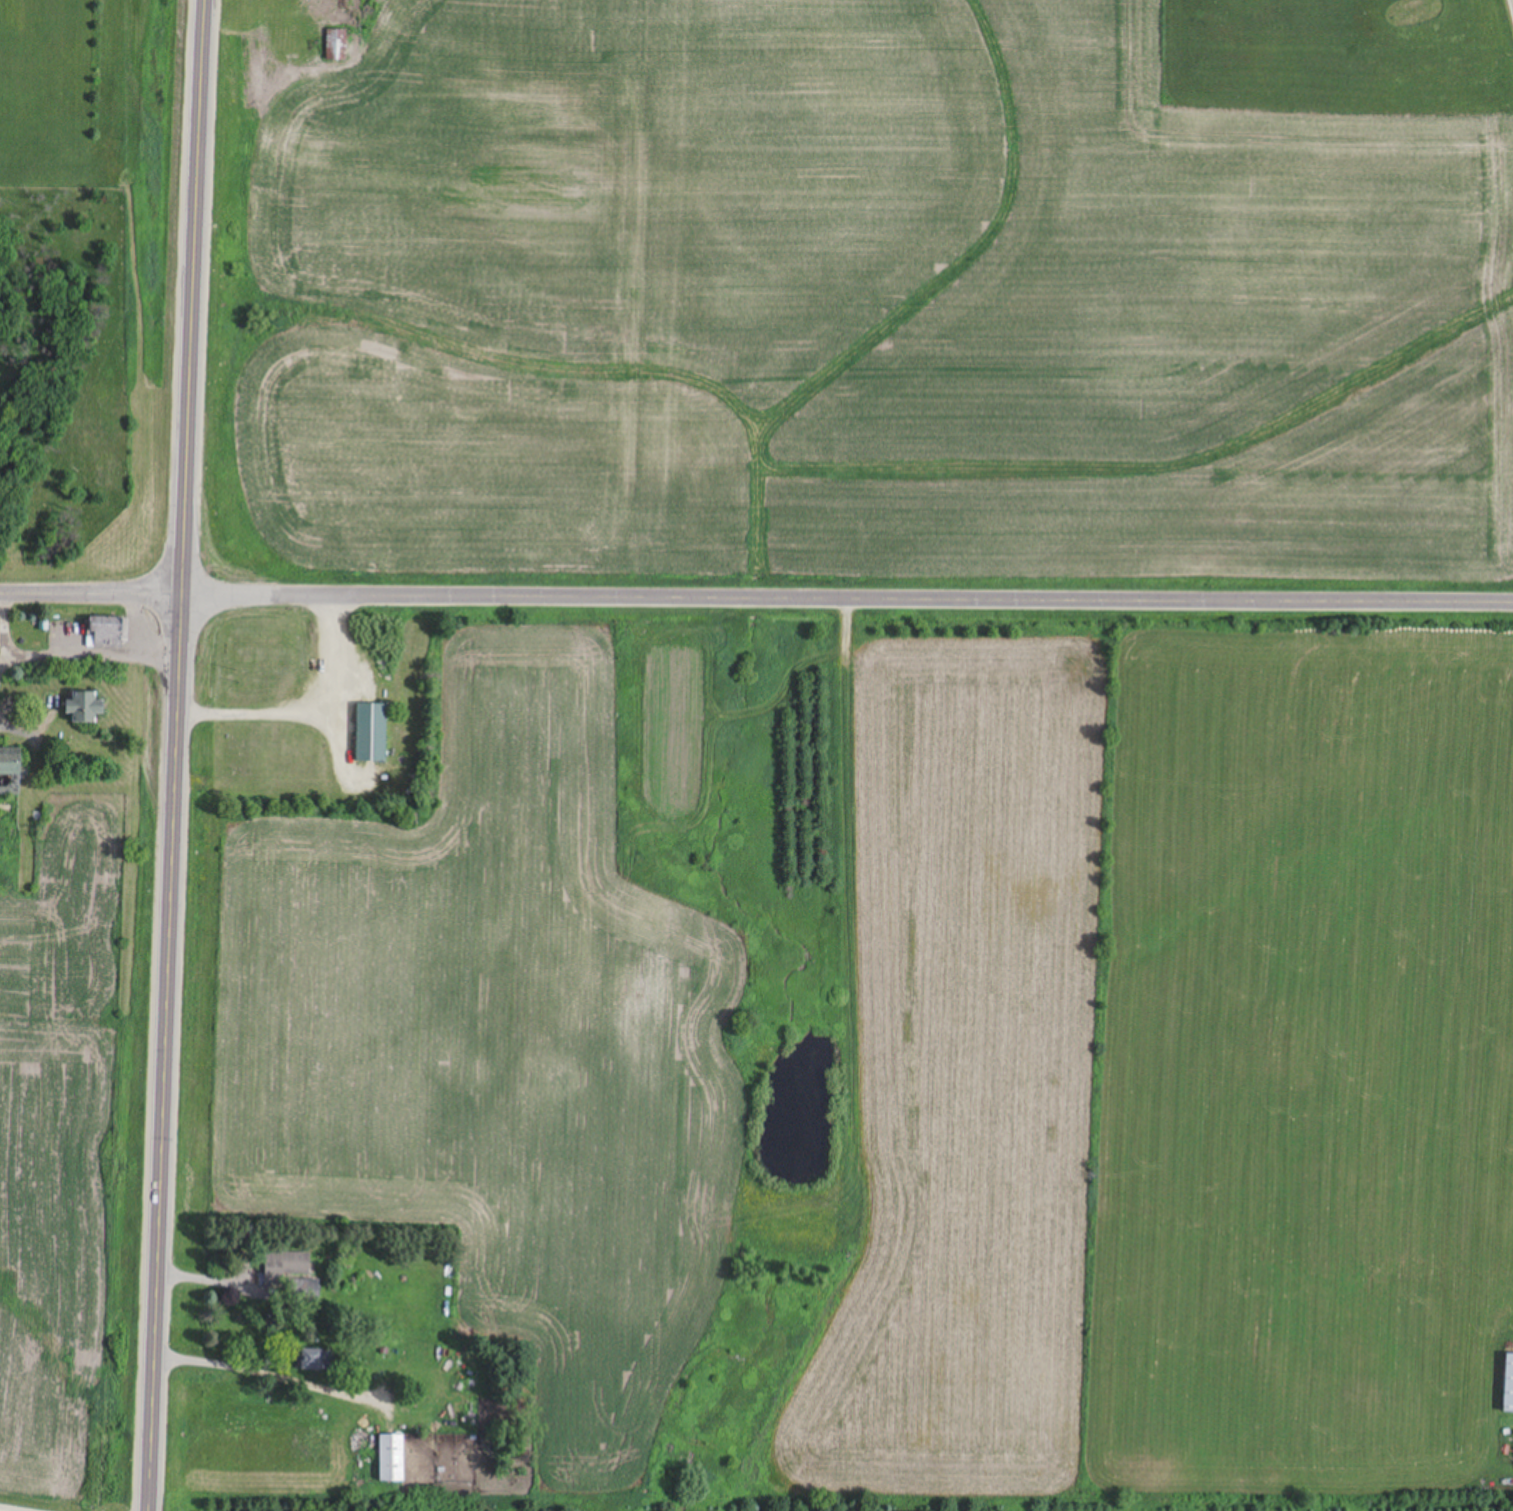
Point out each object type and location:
building: (336, 45)
road: (756, 602)
building: (106, 632)
building: (84, 708)
building: (371, 733)
road: (172, 755)
building: (9, 772)
building: (285, 1266)
building: (302, 1289)
building: (312, 1361)
building: (1508, 1385)
building: (391, 1460)
road: (13, 1508)

